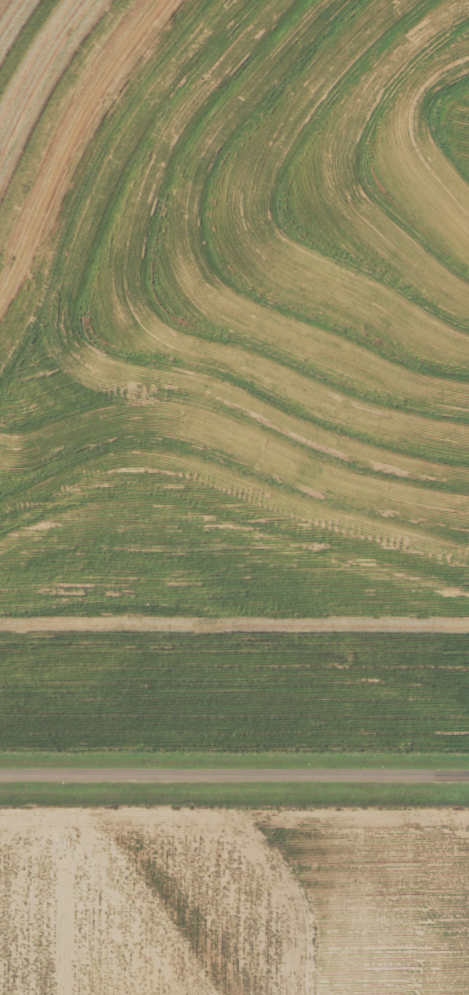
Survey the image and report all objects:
road: (234, 775)

